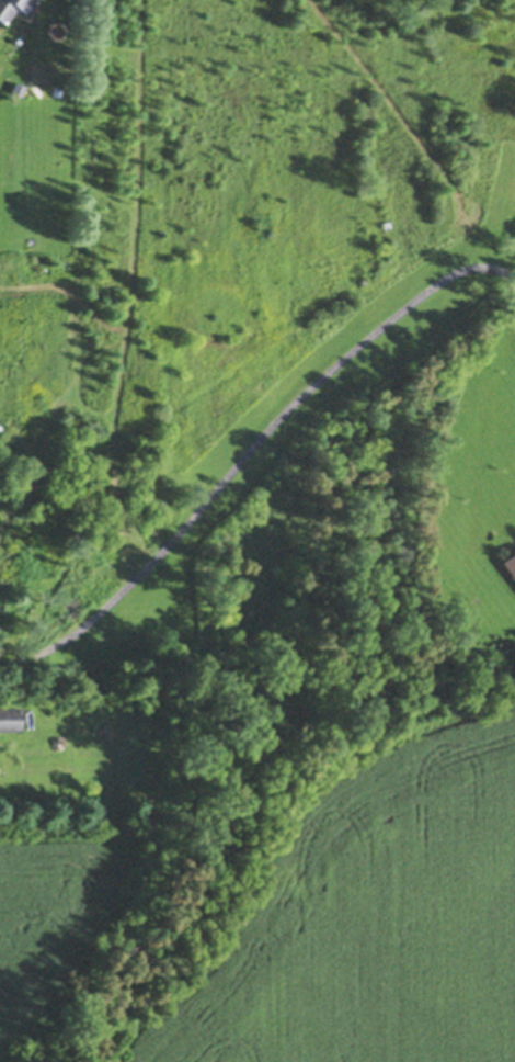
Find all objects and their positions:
building: (9, 7)
building: (19, 87)
road: (250, 447)
building: (511, 562)
building: (11, 716)

